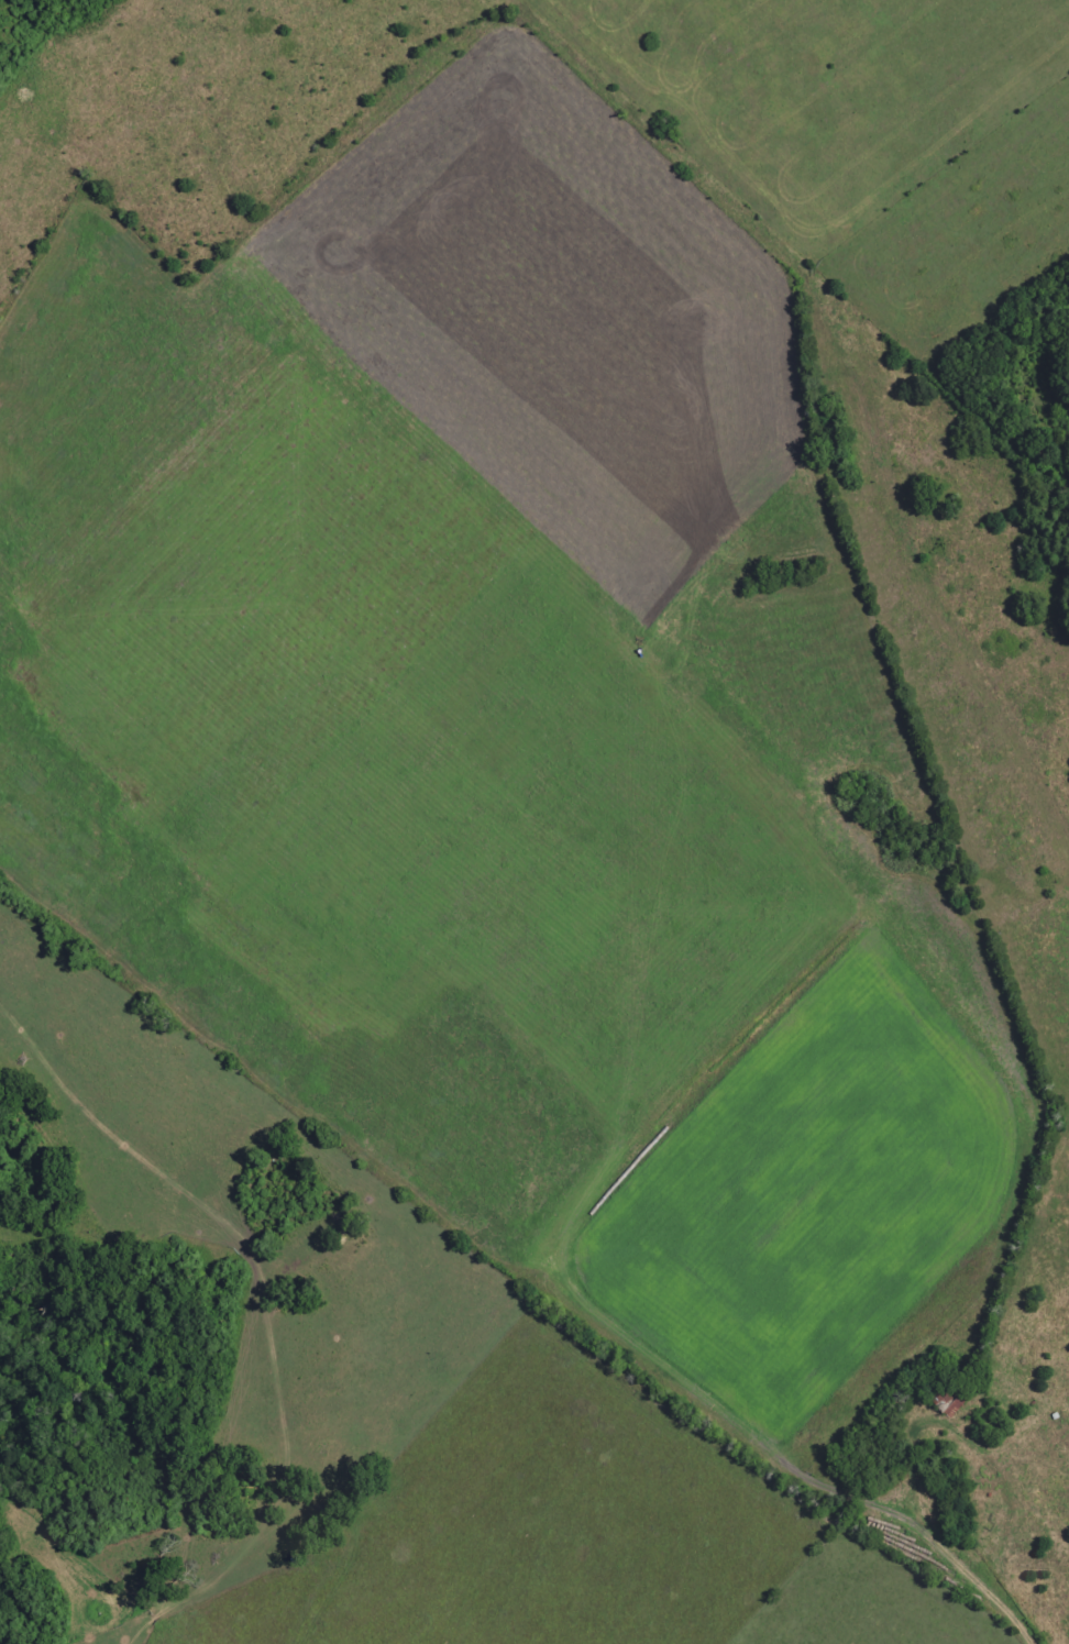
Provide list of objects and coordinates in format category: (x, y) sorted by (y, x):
road: (993, 1578)

